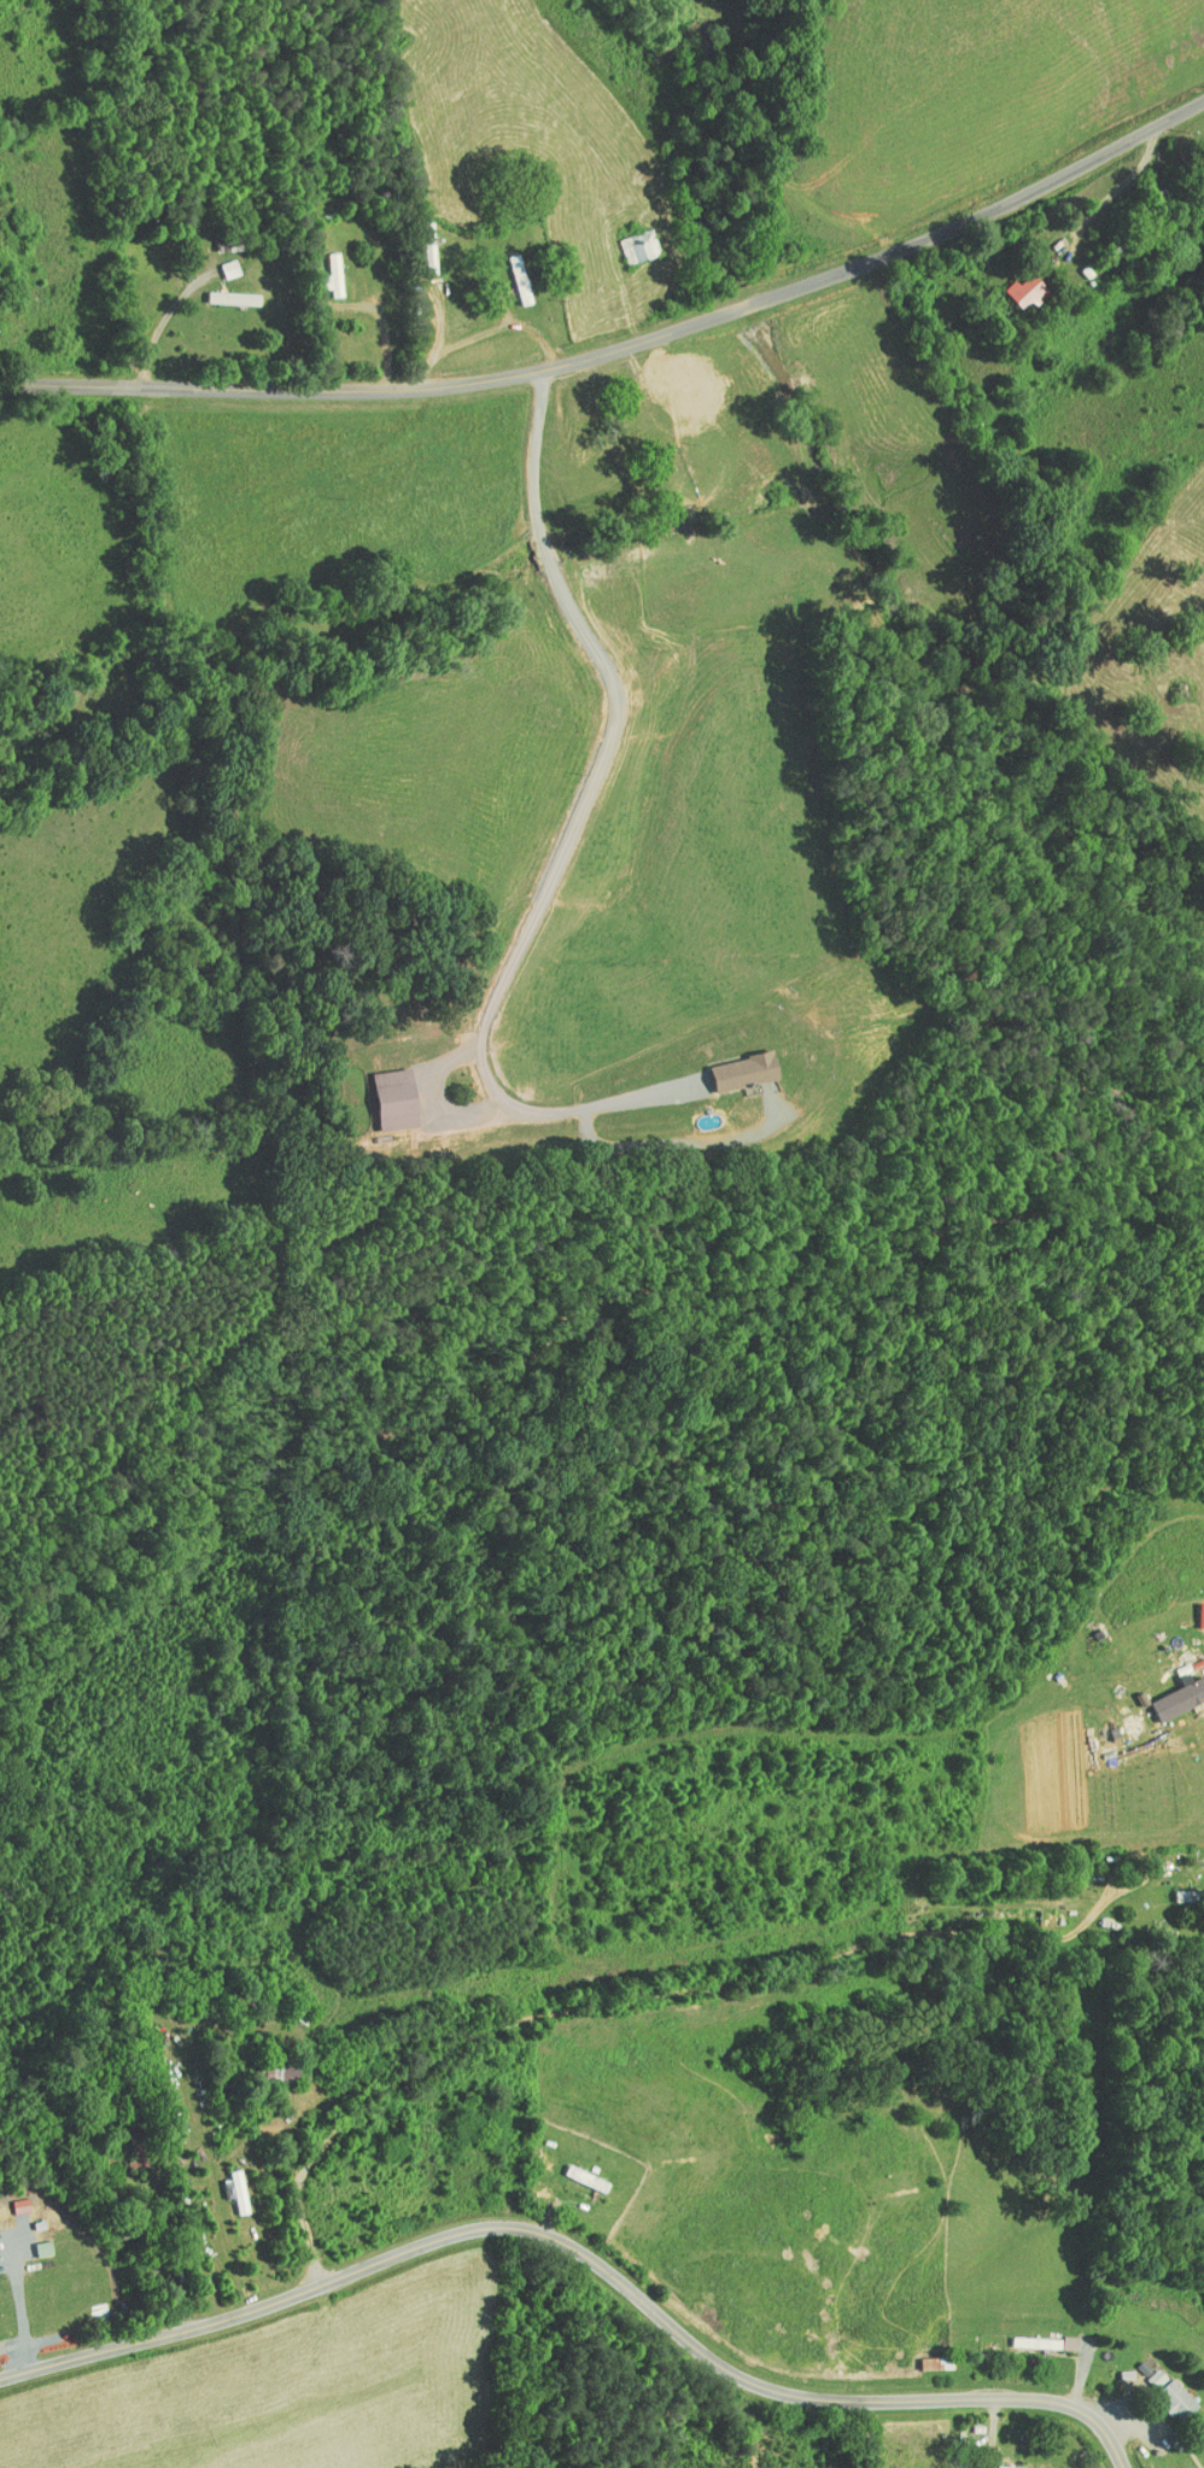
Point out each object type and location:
building: (627, 238)
building: (216, 261)
building: (321, 267)
building: (1015, 282)
building: (221, 290)
road: (624, 342)
building: (647, 358)
road: (520, 445)
road: (531, 543)
road: (519, 910)
building: (731, 1064)
building: (384, 1091)
building: (1170, 1688)
road: (602, 2014)
building: (269, 2064)
building: (574, 2170)
building: (227, 2183)
road: (581, 2252)
building: (1033, 2334)
building: (1144, 2370)
building: (1164, 2392)
building: (1010, 2463)

